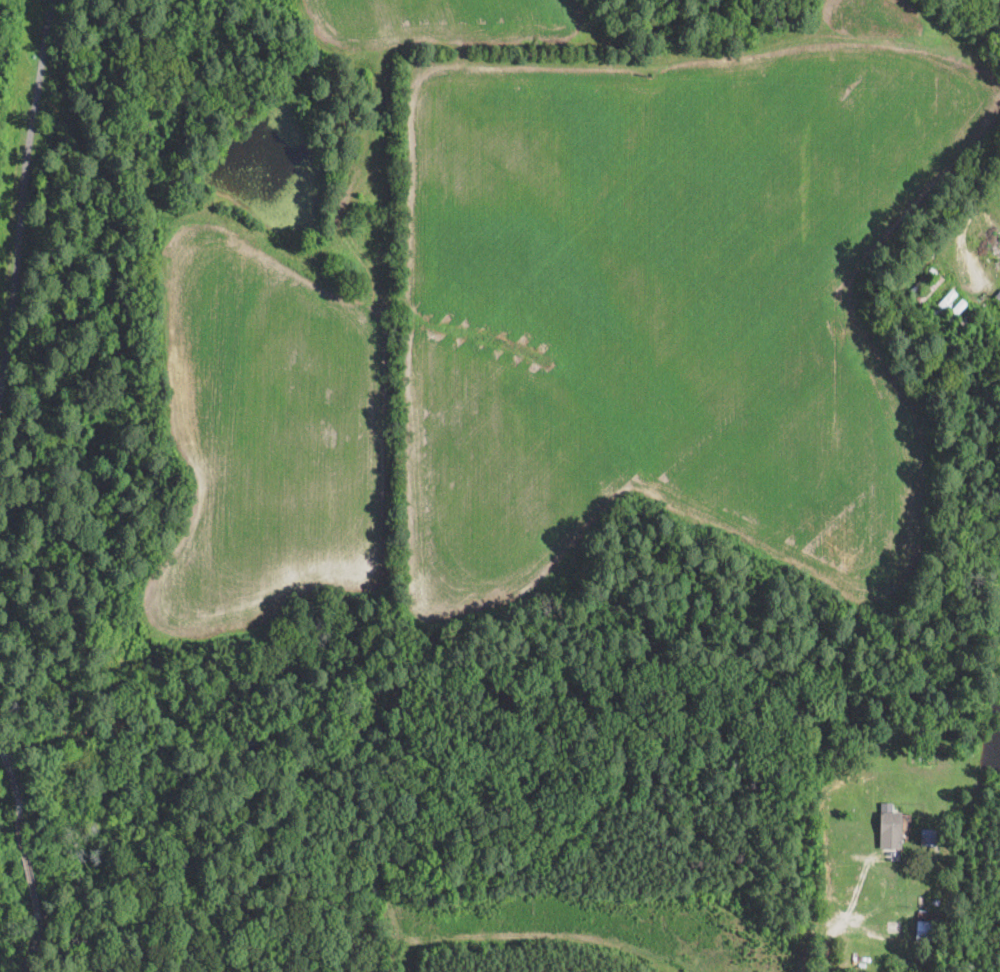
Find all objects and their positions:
road: (21, 188)
building: (922, 282)
building: (929, 289)
building: (998, 296)
building: (944, 303)
building: (954, 312)
building: (964, 322)
park: (474, 343)
building: (923, 754)
building: (705, 765)
road: (12, 778)
park: (409, 832)
building: (929, 837)
building: (890, 838)
road: (26, 861)
building: (504, 868)
road: (824, 879)
building: (604, 898)
building: (930, 927)
road: (34, 942)
building: (890, 968)

